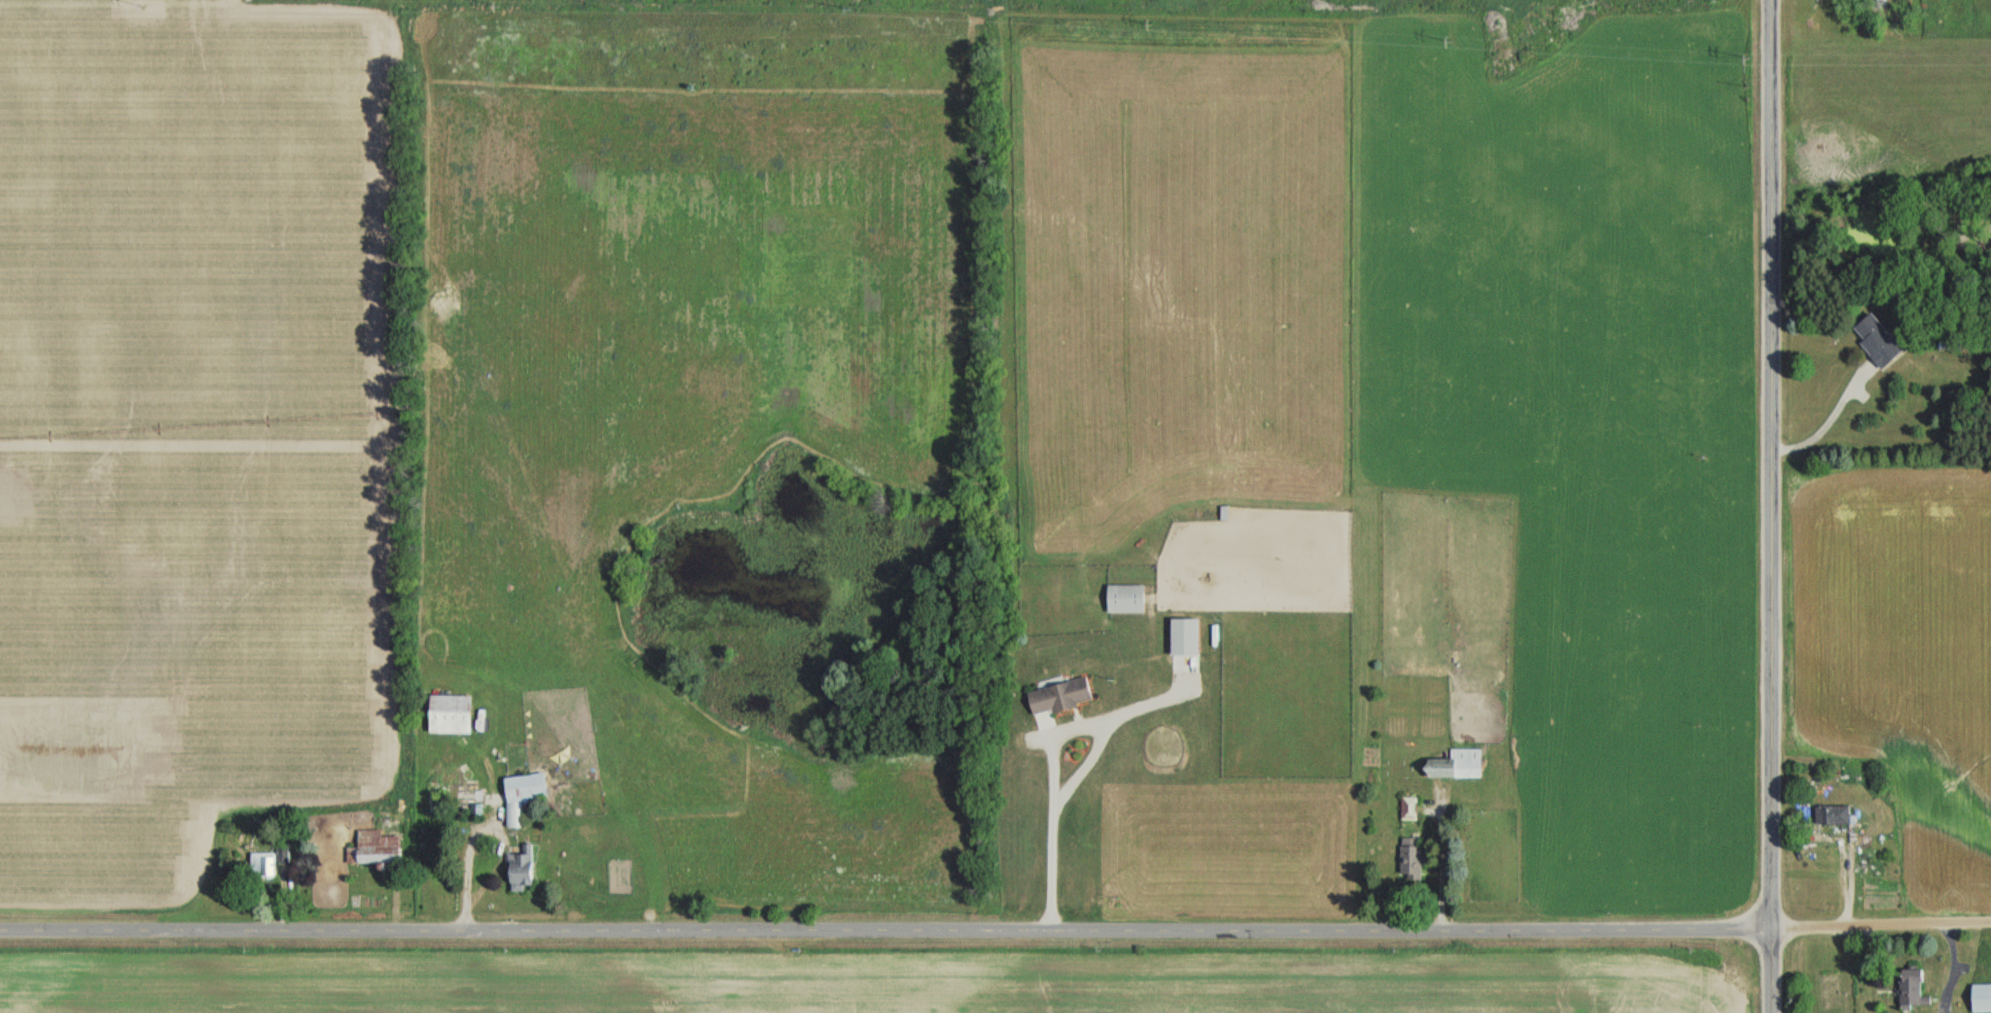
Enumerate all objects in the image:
building: (1879, 4)
power tower: (139, 7)
power tower: (859, 7)
power tower: (492, 8)
power tower: (1143, 25)
power tower: (1452, 40)
power tower: (1742, 59)
building: (1876, 340)
road: (1826, 418)
road: (1769, 506)
building: (1123, 599)
building: (1182, 638)
building: (1057, 697)
building: (447, 714)
road: (1046, 755)
building: (1454, 764)
building: (520, 797)
road: (594, 798)
building: (1831, 814)
building: (374, 848)
building: (1410, 857)
road: (463, 864)
building: (519, 870)
road: (995, 928)
building: (1911, 989)
building: (1980, 998)

